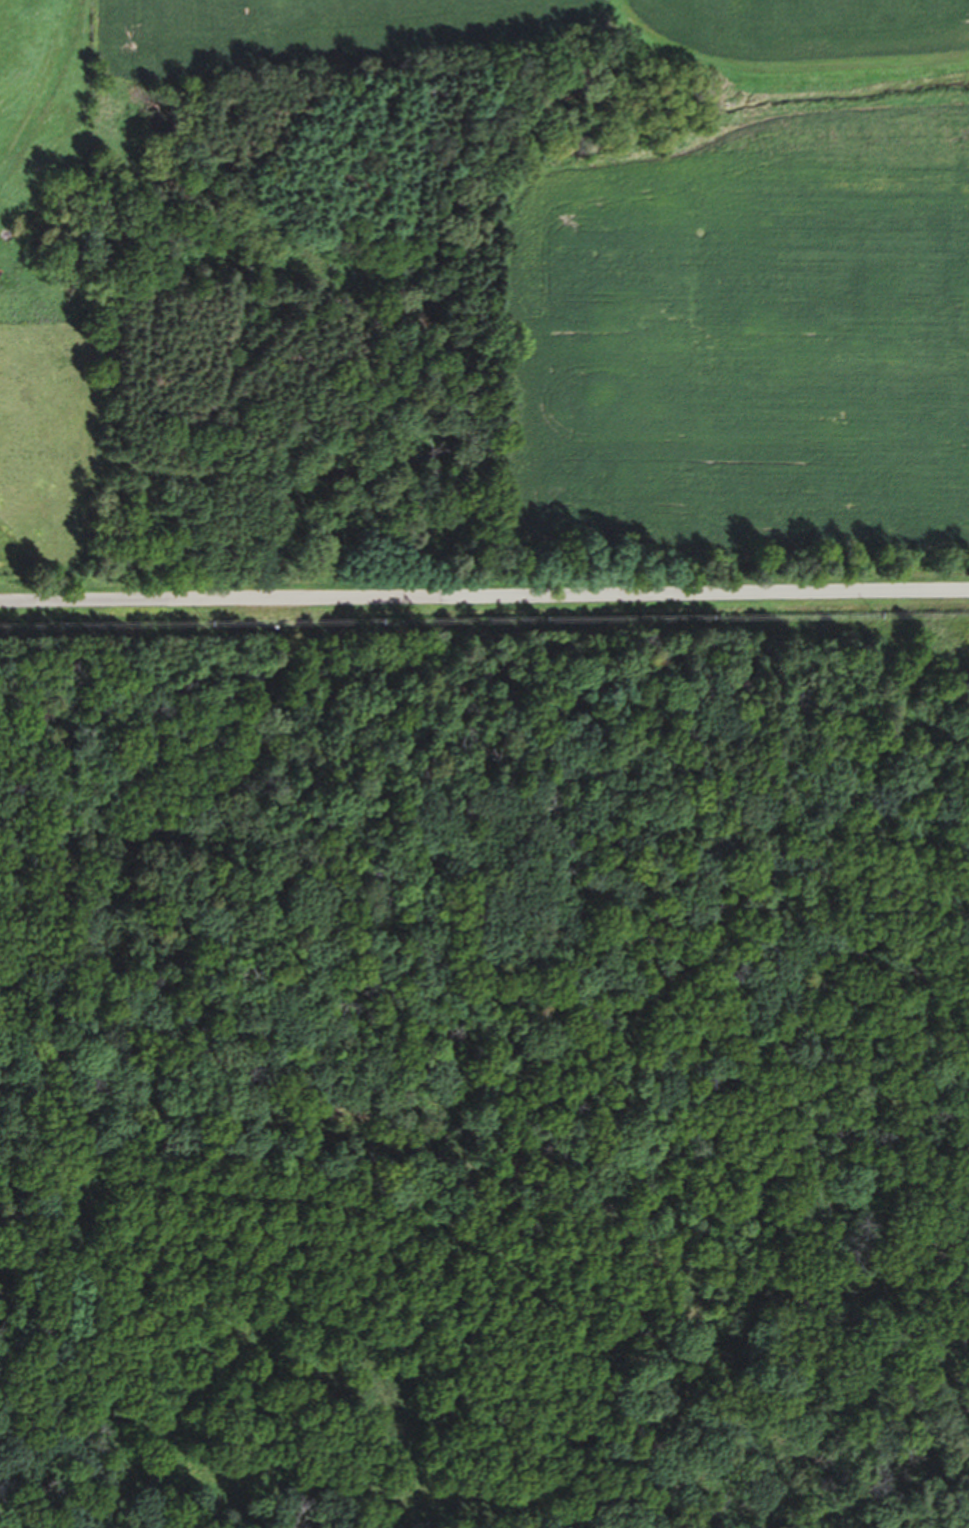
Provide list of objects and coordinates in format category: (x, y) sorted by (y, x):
road: (484, 597)

